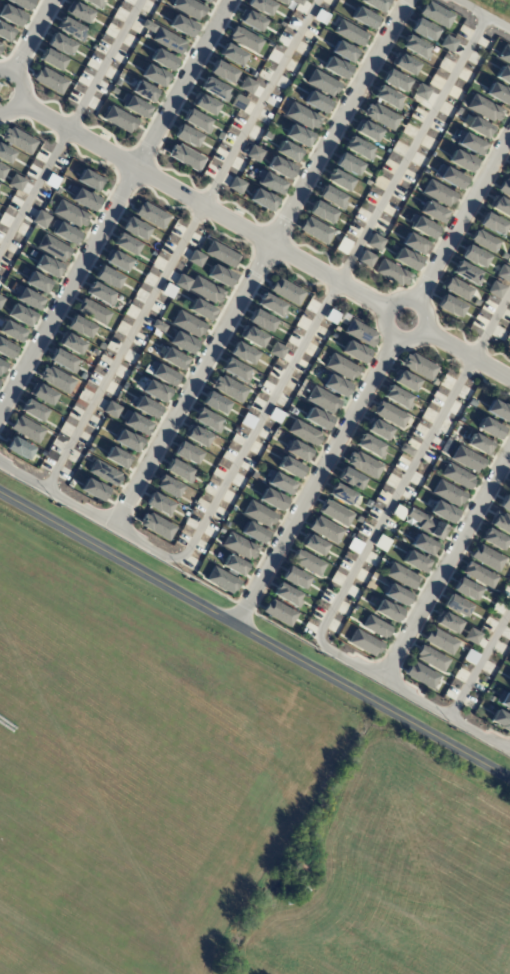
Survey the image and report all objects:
building: (206, 1)
building: (282, 2)
building: (298, 2)
building: (95, 3)
building: (21, 4)
building: (375, 4)
building: (261, 6)
building: (189, 8)
building: (79, 12)
building: (436, 14)
building: (11, 15)
road: (480, 15)
building: (321, 16)
building: (363, 18)
building: (251, 20)
building: (282, 23)
building: (148, 26)
building: (182, 26)
building: (71, 29)
building: (422, 29)
building: (6, 33)
building: (350, 33)
road: (30, 36)
building: (245, 39)
building: (168, 41)
building: (448, 43)
building: (0, 44)
building: (60, 44)
building: (1, 47)
building: (415, 47)
building: (344, 52)
building: (232, 54)
building: (504, 54)
building: (162, 59)
building: (52, 60)
building: (404, 64)
building: (335, 67)
building: (222, 71)
building: (154, 75)
building: (503, 75)
building: (50, 80)
building: (394, 80)
building: (322, 83)
building: (248, 85)
building: (215, 89)
road: (22, 91)
building: (114, 91)
building: (144, 92)
building: (421, 92)
building: (498, 93)
building: (387, 98)
building: (316, 102)
building: (205, 105)
building: (134, 106)
building: (484, 108)
building: (458, 111)
building: (302, 116)
building: (381, 116)
building: (119, 119)
building: (197, 121)
road: (72, 128)
building: (479, 128)
building: (367, 130)
building: (298, 135)
building: (186, 136)
building: (220, 136)
building: (18, 140)
building: (469, 143)
building: (359, 148)
building: (289, 152)
building: (254, 153)
building: (5, 154)
building: (186, 157)
building: (461, 160)
building: (348, 164)
building: (280, 167)
building: (509, 170)
building: (2, 171)
building: (509, 173)
building: (450, 177)
building: (89, 180)
building: (339, 180)
building: (16, 182)
building: (269, 182)
building: (367, 183)
building: (0, 185)
building: (236, 185)
building: (505, 188)
building: (57, 191)
building: (438, 193)
building: (332, 197)
building: (83, 198)
building: (262, 199)
road: (116, 204)
building: (500, 206)
road: (202, 207)
building: (321, 212)
building: (433, 212)
building: (70, 214)
building: (151, 215)
road: (462, 215)
building: (40, 219)
building: (492, 224)
building: (422, 227)
building: (134, 228)
building: (316, 230)
building: (64, 232)
building: (484, 241)
road: (179, 242)
building: (376, 242)
building: (414, 244)
building: (126, 245)
building: (53, 248)
building: (221, 254)
building: (473, 256)
building: (196, 258)
building: (366, 258)
building: (406, 259)
building: (117, 261)
road: (261, 261)
building: (47, 266)
building: (160, 271)
building: (392, 273)
building: (466, 273)
building: (503, 273)
building: (220, 275)
building: (107, 277)
building: (38, 282)
building: (199, 288)
building: (458, 288)
building: (496, 290)
building: (287, 291)
building: (169, 292)
building: (100, 294)
building: (27, 298)
building: (1, 300)
building: (476, 302)
building: (271, 305)
building: (449, 306)
building: (201, 310)
building: (93, 311)
building: (20, 315)
building: (332, 317)
building: (261, 321)
road: (385, 322)
building: (188, 323)
building: (158, 326)
building: (79, 327)
building: (11, 331)
building: (360, 333)
building: (333, 336)
building: (252, 337)
building: (182, 342)
building: (71, 343)
building: (102, 346)
building: (6, 349)
building: (95, 351)
building: (277, 351)
building: (354, 351)
building: (242, 353)
road: (467, 355)
building: (173, 359)
building: (63, 361)
building: (2, 366)
building: (341, 366)
building: (419, 366)
building: (136, 367)
building: (235, 370)
building: (162, 374)
building: (82, 376)
road: (280, 377)
building: (57, 379)
building: (405, 381)
building: (435, 381)
building: (258, 385)
building: (335, 385)
building: (229, 388)
building: (155, 391)
building: (43, 394)
building: (397, 397)
building: (322, 400)
building: (214, 403)
building: (471, 403)
building: (146, 407)
building: (246, 407)
building: (112, 410)
building: (498, 410)
building: (33, 411)
building: (390, 414)
building: (275, 416)
building: (317, 418)
building: (461, 419)
building: (207, 420)
building: (248, 420)
building: (136, 423)
building: (489, 428)
building: (27, 429)
building: (378, 430)
building: (304, 432)
building: (197, 436)
building: (127, 440)
building: (479, 445)
building: (370, 446)
building: (19, 448)
building: (90, 449)
building: (405, 450)
building: (298, 451)
building: (43, 453)
building: (187, 453)
building: (118, 458)
building: (467, 459)
building: (364, 464)
building: (290, 468)
building: (179, 471)
building: (104, 473)
building: (253, 475)
building: (457, 476)
building: (349, 478)
road: (316, 480)
building: (279, 482)
building: (71, 484)
building: (168, 486)
building: (93, 489)
building: (509, 489)
building: (448, 493)
building: (341, 494)
building: (272, 499)
building: (158, 503)
building: (505, 503)
building: (442, 511)
building: (335, 512)
building: (259, 514)
building: (359, 519)
building: (501, 522)
building: (226, 524)
building: (426, 524)
building: (157, 526)
building: (221, 530)
building: (326, 530)
building: (253, 533)
building: (493, 539)
building: (313, 544)
building: (424, 545)
building: (239, 546)
building: (354, 546)
building: (487, 557)
road: (358, 560)
building: (308, 562)
building: (415, 562)
road: (448, 565)
building: (234, 566)
building: (479, 574)
building: (506, 574)
building: (402, 576)
building: (294, 578)
building: (222, 580)
building: (465, 589)
building: (286, 595)
building: (396, 595)
building: (455, 605)
building: (355, 608)
building: (387, 611)
building: (279, 612)
building: (447, 622)
building: (376, 627)
road: (255, 633)
building: (472, 636)
building: (441, 641)
building: (364, 643)
building: (470, 657)
building: (431, 658)
road: (481, 663)
building: (509, 664)
building: (509, 666)
building: (422, 675)
building: (509, 686)
building: (509, 687)
building: (489, 698)
building: (505, 701)
building: (501, 720)
building: (301, 868)

